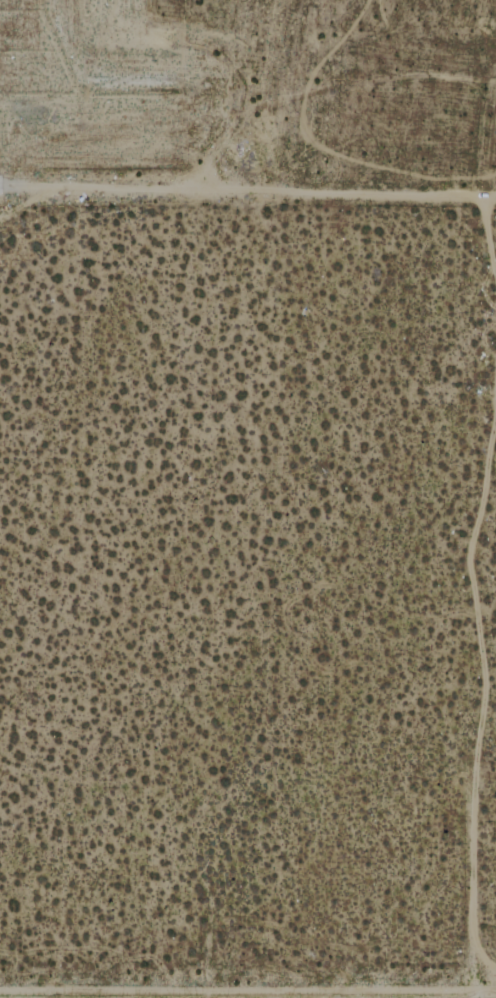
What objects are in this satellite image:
road: (2, 189)
road: (249, 196)

